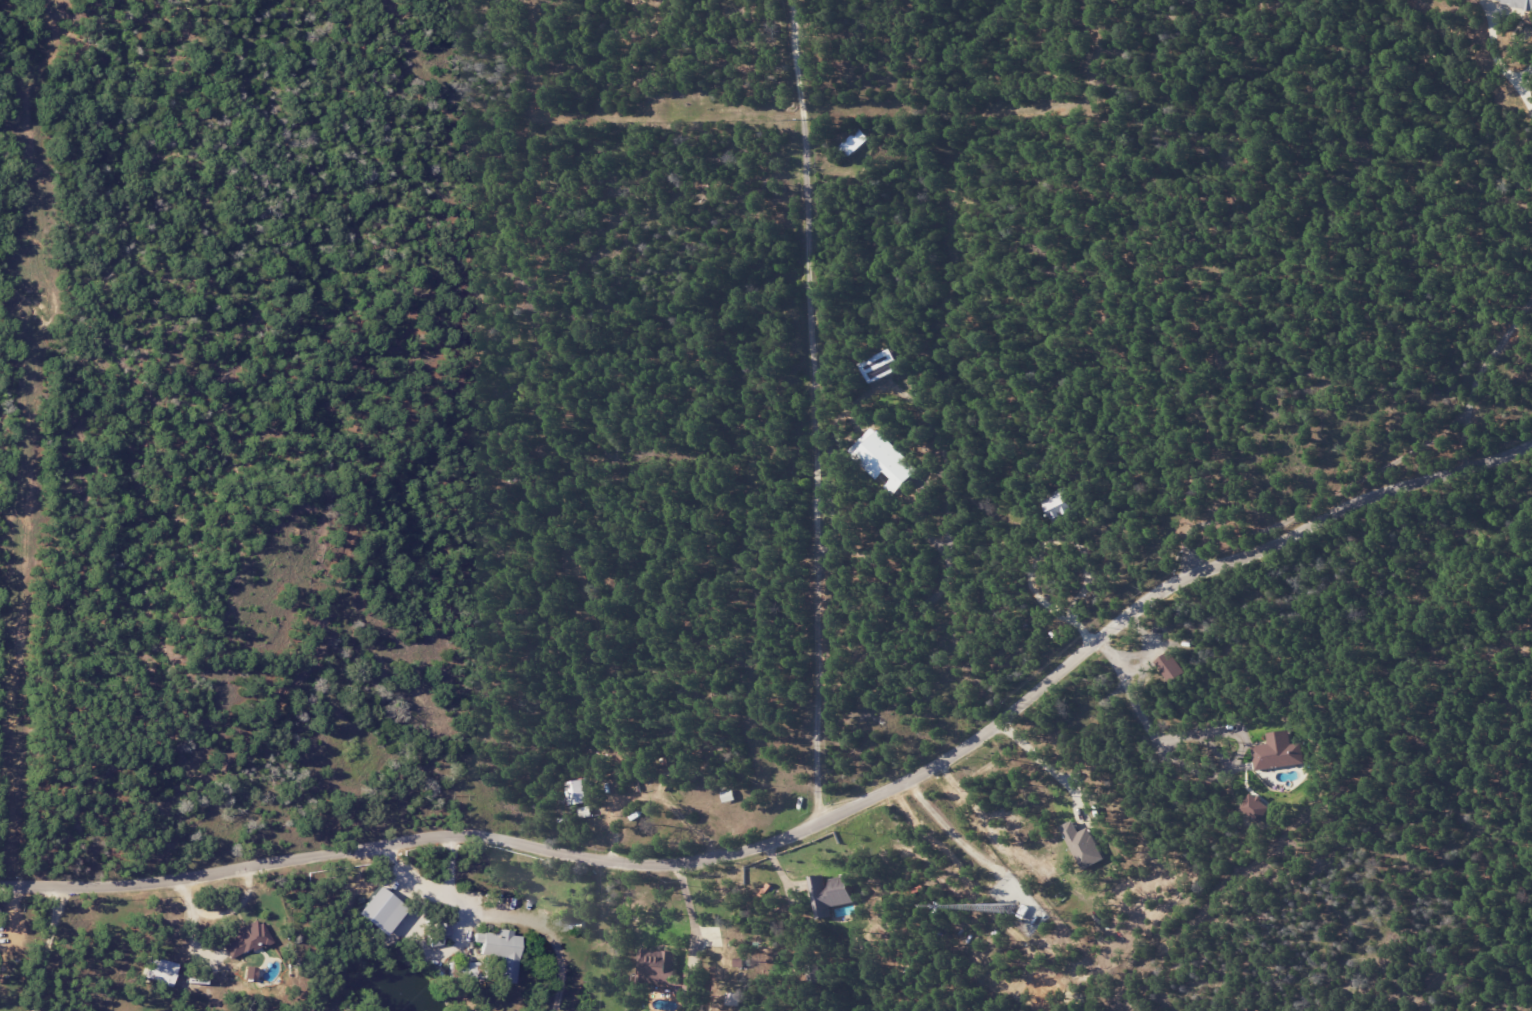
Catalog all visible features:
building: (1519, 2)
road: (1492, 33)
road: (1525, 75)
road: (1526, 101)
building: (883, 366)
road: (1484, 379)
road: (814, 411)
building: (885, 459)
building: (1056, 505)
road: (949, 553)
road: (1082, 592)
building: (1169, 666)
road: (1144, 730)
building: (1277, 751)
road: (1043, 759)
building: (575, 792)
road: (648, 796)
building: (1255, 806)
road: (811, 828)
road: (966, 845)
building: (1082, 845)
road: (433, 887)
building: (829, 893)
building: (378, 911)
road: (690, 911)
building: (246, 940)
road: (46, 948)
building: (499, 951)
building: (156, 970)
building: (664, 974)
building: (732, 999)

